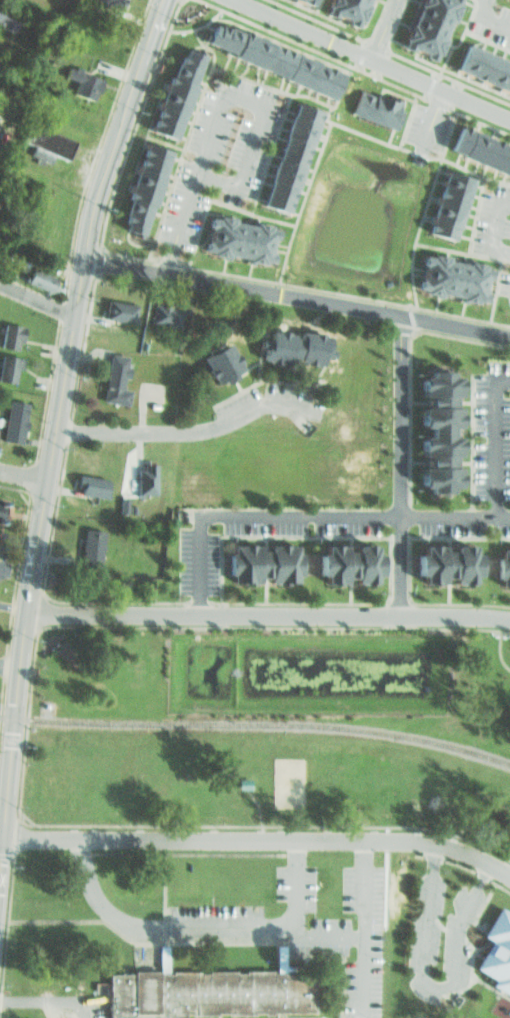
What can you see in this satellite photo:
building: (300, 0)
building: (311, 1)
building: (112, 2)
building: (338, 8)
building: (8, 18)
road: (485, 20)
building: (420, 24)
road: (380, 29)
building: (268, 56)
road: (370, 59)
building: (481, 65)
building: (79, 81)
building: (168, 86)
road: (264, 105)
building: (369, 106)
road: (428, 115)
building: (42, 140)
building: (480, 146)
building: (284, 150)
road: (112, 155)
building: (138, 183)
building: (444, 203)
road: (179, 222)
road: (492, 228)
building: (234, 234)
building: (449, 274)
building: (39, 277)
road: (298, 291)
road: (37, 299)
building: (116, 307)
building: (163, 310)
building: (9, 334)
building: (286, 345)
building: (213, 357)
building: (6, 365)
building: (109, 379)
building: (10, 418)
building: (429, 425)
road: (189, 428)
road: (491, 447)
road: (398, 465)
building: (140, 475)
road: (21, 480)
building: (86, 482)
building: (1, 499)
building: (1, 509)
road: (294, 515)
building: (84, 544)
building: (256, 557)
building: (341, 559)
building: (439, 559)
building: (500, 563)
road: (31, 573)
road: (13, 606)
road: (267, 614)
road: (496, 648)
road: (10, 666)
railway: (257, 725)
building: (239, 779)
park: (285, 782)
park: (261, 823)
road: (258, 841)
road: (57, 921)
road: (201, 930)
road: (363, 930)
road: (325, 937)
building: (494, 947)
road: (427, 986)
building: (208, 989)

